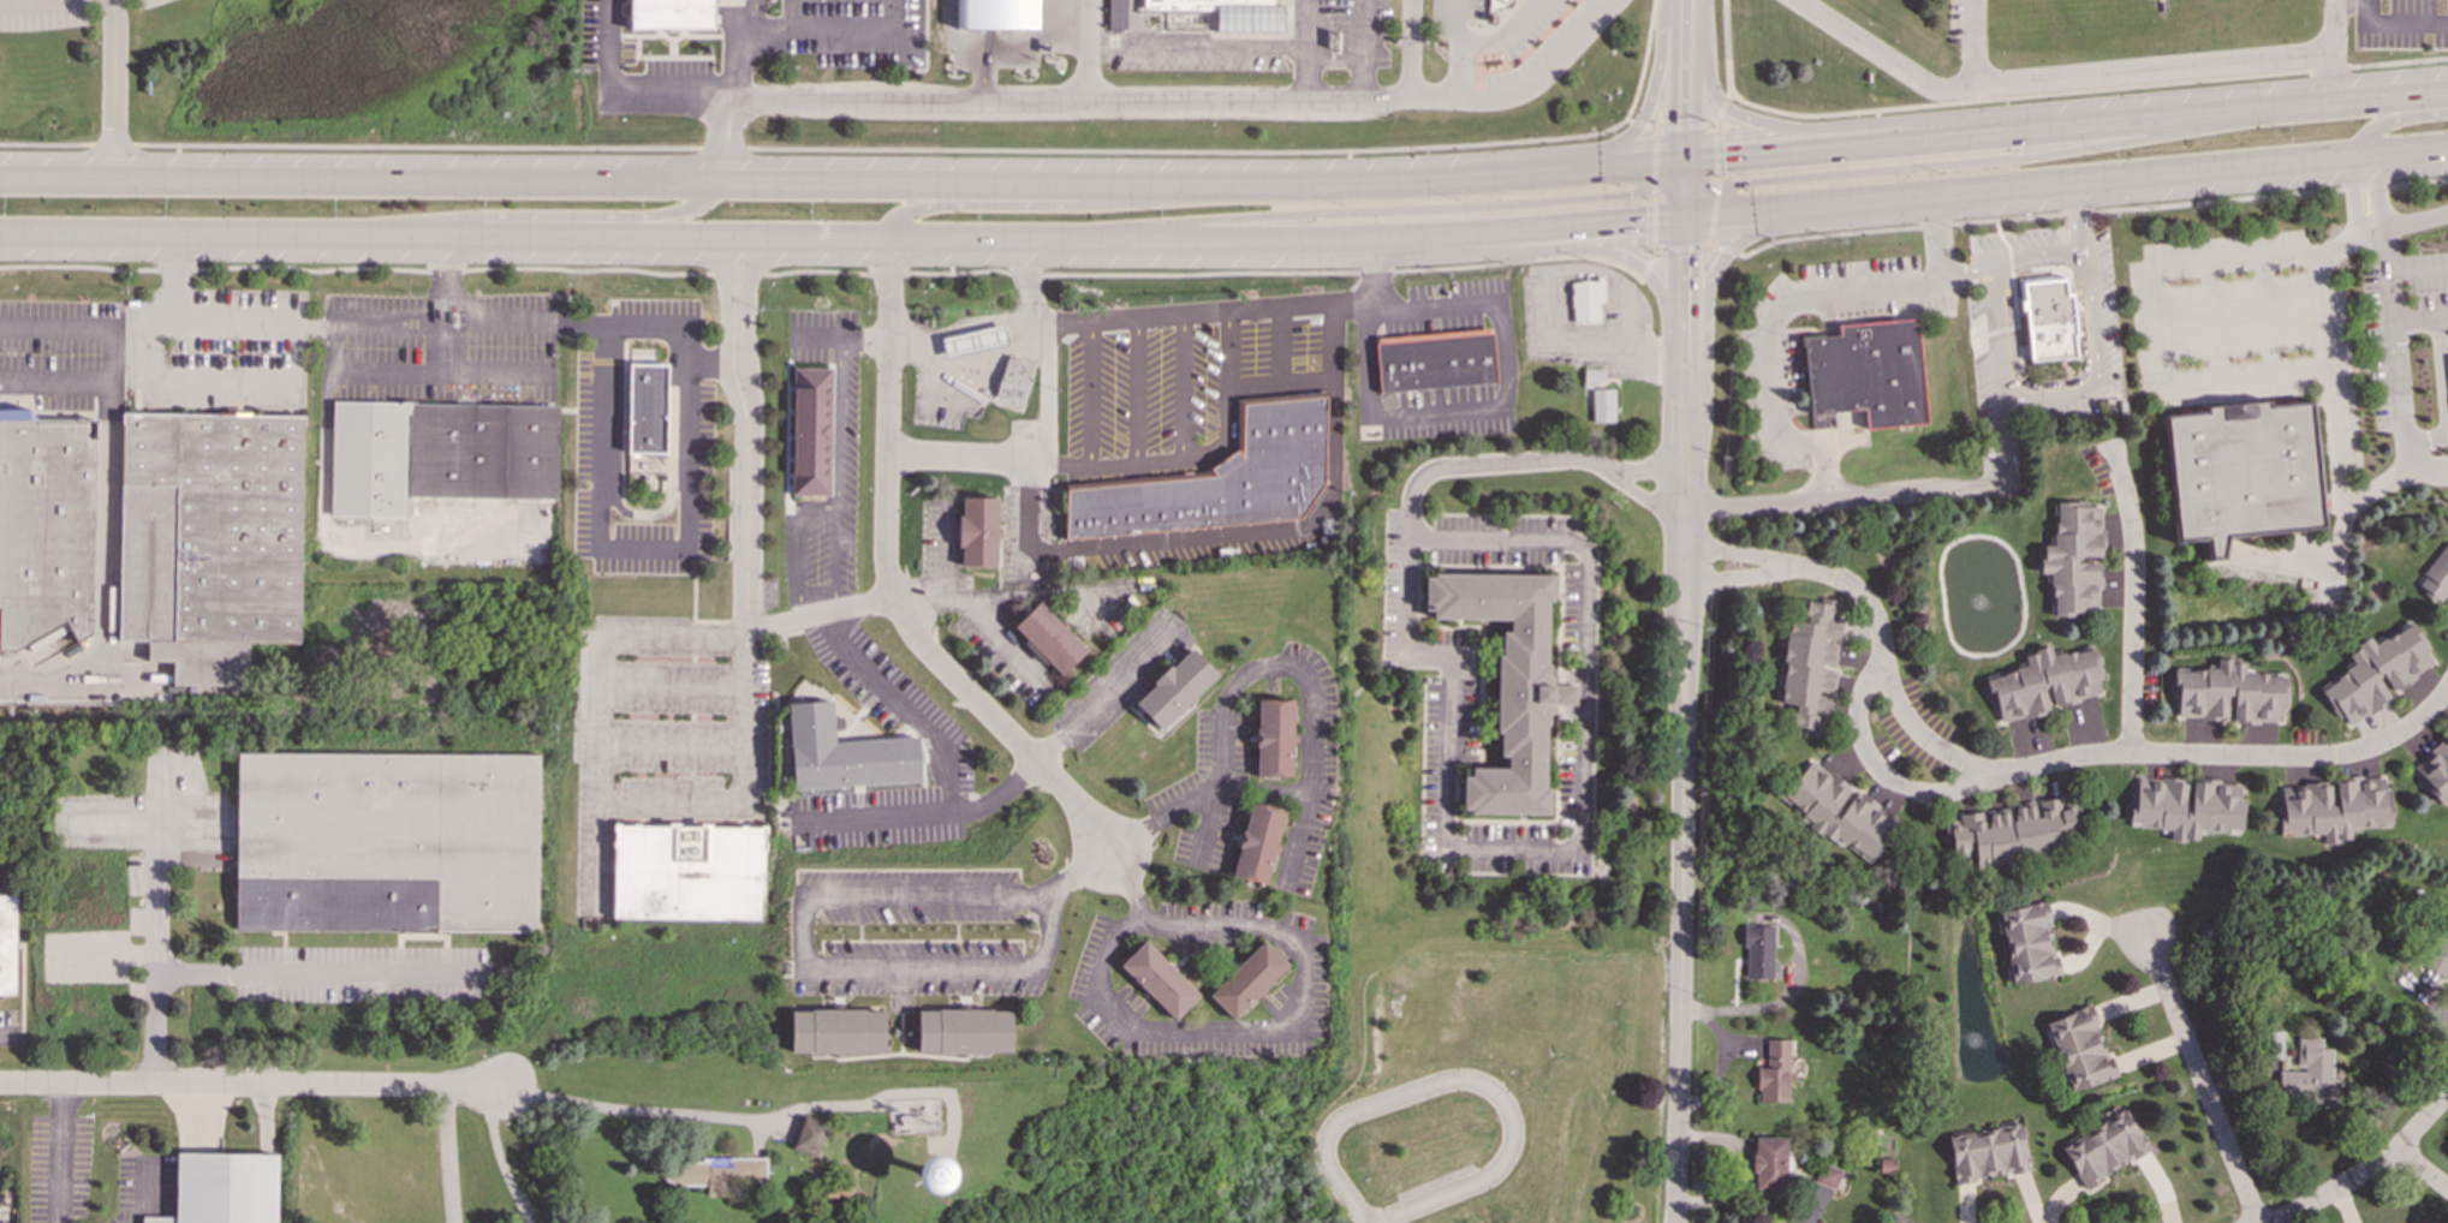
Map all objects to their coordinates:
road: (19, 1)
parking lot: (762, 2)
road: (1056, 2)
parking lot: (148, 4)
building: (1226, 12)
parking lot: (42, 13)
building: (671, 14)
road: (970, 14)
building: (996, 14)
building: (1116, 14)
road: (1071, 16)
road: (794, 17)
road: (756, 19)
road: (1455, 22)
parking lot: (1961, 22)
parking lot: (2400, 23)
road: (1134, 24)
road: (1306, 24)
road: (2331, 26)
road: (2394, 26)
parking lot: (853, 31)
road: (841, 34)
road: (608, 35)
parking lot: (1276, 43)
road: (1481, 44)
road: (1976, 44)
road: (1019, 47)
parking lot: (1514, 47)
road: (1726, 47)
road: (1197, 48)
road: (1411, 49)
road: (1089, 50)
road: (1364, 50)
road: (1335, 60)
road: (2396, 61)
parking lot: (677, 62)
flagpole: (1058, 65)
road: (1547, 68)
road: (2329, 68)
road: (1305, 74)
park: (291, 76)
road: (1685, 79)
road: (2071, 79)
road: (112, 88)
road: (2019, 96)
road: (709, 100)
road: (1435, 100)
road: (1035, 102)
road: (1646, 107)
road: (1721, 109)
traffic signals: (1685, 119)
road: (2392, 120)
road: (1640, 124)
road: (1685, 126)
road: (2066, 126)
road: (1823, 127)
road: (876, 149)
traffic signals: (1723, 156)
road: (1965, 163)
road: (2191, 173)
road: (842, 181)
traffic signals: (1739, 184)
road: (1716, 185)
road: (1652, 190)
road: (1685, 190)
traffic signals: (1631, 195)
road: (2376, 195)
road: (2353, 199)
road: (1050, 207)
road: (1809, 208)
road: (1386, 210)
road: (2092, 211)
road: (543, 216)
road: (2080, 219)
traffic signals: (1645, 222)
road: (2411, 223)
road: (1937, 237)
road: (842, 241)
road: (1555, 247)
road: (2384, 247)
road: (1679, 249)
road: (1723, 250)
traffic signals: (1685, 256)
road: (2041, 258)
road: (2418, 264)
road: (1646, 266)
road: (1577, 268)
road: (823, 270)
road: (1378, 270)
road: (1685, 274)
road: (1970, 275)
road: (175, 276)
road: (443, 280)
road: (1705, 293)
road: (2151, 297)
building: (1586, 300)
road: (1352, 303)
road: (1433, 309)
parking lot: (1445, 309)
road: (1243, 311)
road: (2267, 316)
building: (2048, 318)
road: (2420, 318)
road: (2214, 321)
parking lot: (1618, 322)
parking lot: (2400, 326)
road: (55, 327)
road: (686, 329)
parking lot: (2245, 329)
road: (841, 339)
road: (1770, 339)
building: (973, 340)
gas station: (973, 340)
road: (1686, 344)
parking lot: (440, 347)
road: (1280, 347)
road: (443, 348)
road: (131, 352)
parking lot: (215, 352)
road: (1227, 354)
parking lot: (66, 357)
road: (969, 358)
road: (1369, 359)
road: (711, 360)
building: (1435, 363)
parking lot: (963, 365)
road: (2101, 368)
building: (1866, 372)
road: (413, 374)
building: (1592, 375)
parking lot: (1186, 377)
building: (1014, 380)
road: (222, 382)
road: (2329, 382)
road: (55, 383)
road: (2400, 387)
road: (1181, 388)
road: (1136, 392)
road: (1687, 393)
road: (2444, 394)
road: (1089, 395)
road: (1046, 401)
building: (1603, 405)
building: (647, 407)
road: (1484, 407)
parking lot: (1439, 412)
building: (811, 431)
parking lot: (844, 431)
road: (1687, 440)
parking lot: (695, 442)
road: (1214, 452)
building: (439, 454)
road: (959, 457)
road: (1487, 463)
road: (1652, 466)
building: (2242, 472)
parking lot: (612, 475)
road: (835, 475)
building: (1219, 478)
road: (1959, 490)
road: (1648, 500)
road: (750, 513)
building: (44, 529)
building: (977, 531)
building: (212, 539)
parking lot: (940, 541)
parking lot: (1133, 541)
road: (1140, 544)
road: (796, 547)
road: (946, 550)
road: (106, 551)
road: (2333, 554)
road: (1756, 555)
building: (2073, 560)
road: (1755, 574)
building: (2436, 574)
road: (892, 586)
parking lot: (1402, 590)
road: (1076, 595)
road: (975, 596)
parking lot: (1106, 603)
road: (2134, 605)
parking lot: (1576, 628)
road: (1000, 634)
building: (1048, 639)
parking lot: (1006, 651)
road: (41, 652)
building: (1810, 666)
road: (1255, 668)
parking lot: (95, 673)
road: (137, 673)
building: (2377, 673)
parking lot: (1120, 680)
building: (1508, 684)
building: (2044, 684)
road: (674, 685)
building: (1175, 688)
building: (2229, 694)
road: (1102, 697)
parking lot: (893, 698)
road: (600, 700)
road: (903, 708)
parking lot: (663, 735)
building: (1274, 738)
road: (673, 747)
building: (847, 753)
parking lot: (1452, 753)
road: (2090, 757)
parking lot: (1309, 766)
building: (2436, 771)
road: (1887, 778)
road: (1263, 787)
parking lot: (1205, 789)
road: (747, 793)
building: (2185, 806)
building: (2334, 809)
building: (1839, 812)
road: (925, 815)
parking lot: (880, 817)
building: (2012, 831)
road: (1681, 836)
building: (388, 841)
building: (1258, 842)
road: (1578, 851)
building: (689, 871)
road: (1073, 873)
parking lot: (8, 878)
road: (159, 887)
parking lot: (1227, 927)
road: (422, 936)
parking lot: (921, 941)
building: (2027, 943)
building: (8, 945)
road: (284, 947)
building: (1759, 953)
road: (811, 965)
road: (266, 973)
parking lot: (362, 974)
parking lot: (1108, 977)
building: (1249, 979)
building: (1159, 980)
road: (22, 988)
road: (1769, 1003)
parking lot: (1247, 1020)
road: (1298, 1021)
parking lot: (10, 1027)
road: (7, 1030)
building: (836, 1031)
building: (965, 1031)
building: (2274, 1045)
building: (2080, 1049)
building: (1774, 1072)
building: (2309, 1074)
road: (1467, 1076)
road: (249, 1082)
road: (2202, 1082)
road: (752, 1120)
building: (911, 1120)
building: (810, 1135)
building: (2104, 1146)
road: (60, 1152)
building: (1988, 1152)
road: (447, 1153)
road: (499, 1157)
parking lot: (59, 1161)
building: (1769, 1163)
road: (2363, 1169)
road: (2422, 1169)
water tower: (935, 1171)
building: (1827, 1175)
building: (721, 1176)
parking lot: (144, 1187)
building: (224, 1188)
road: (141, 1197)

